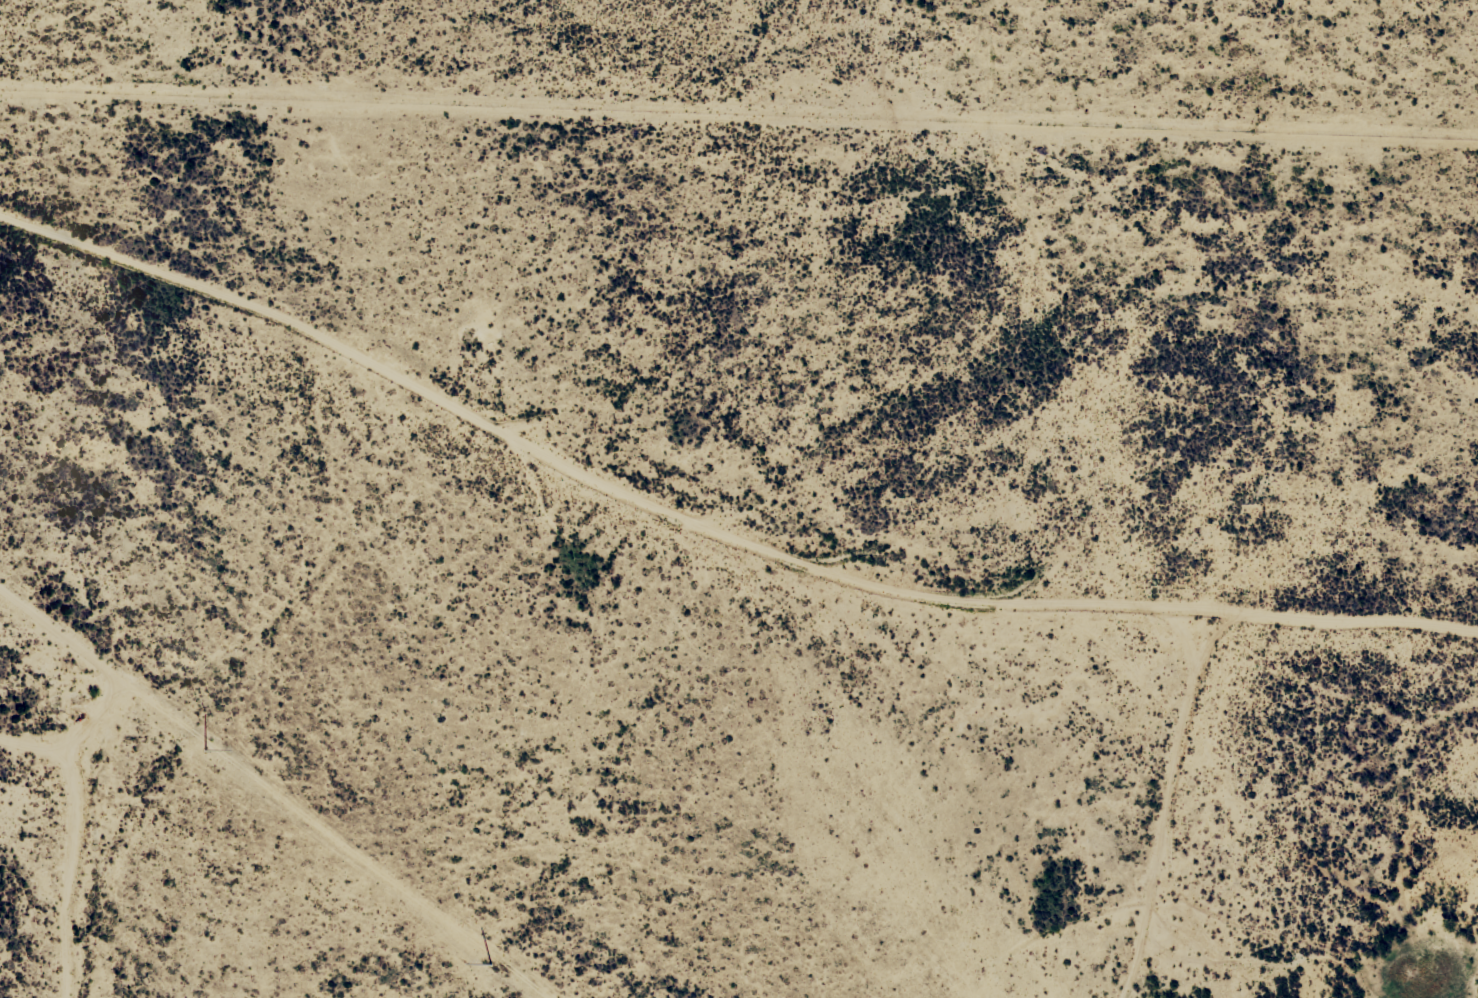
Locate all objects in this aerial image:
power tower: (208, 751)
power tower: (492, 963)

